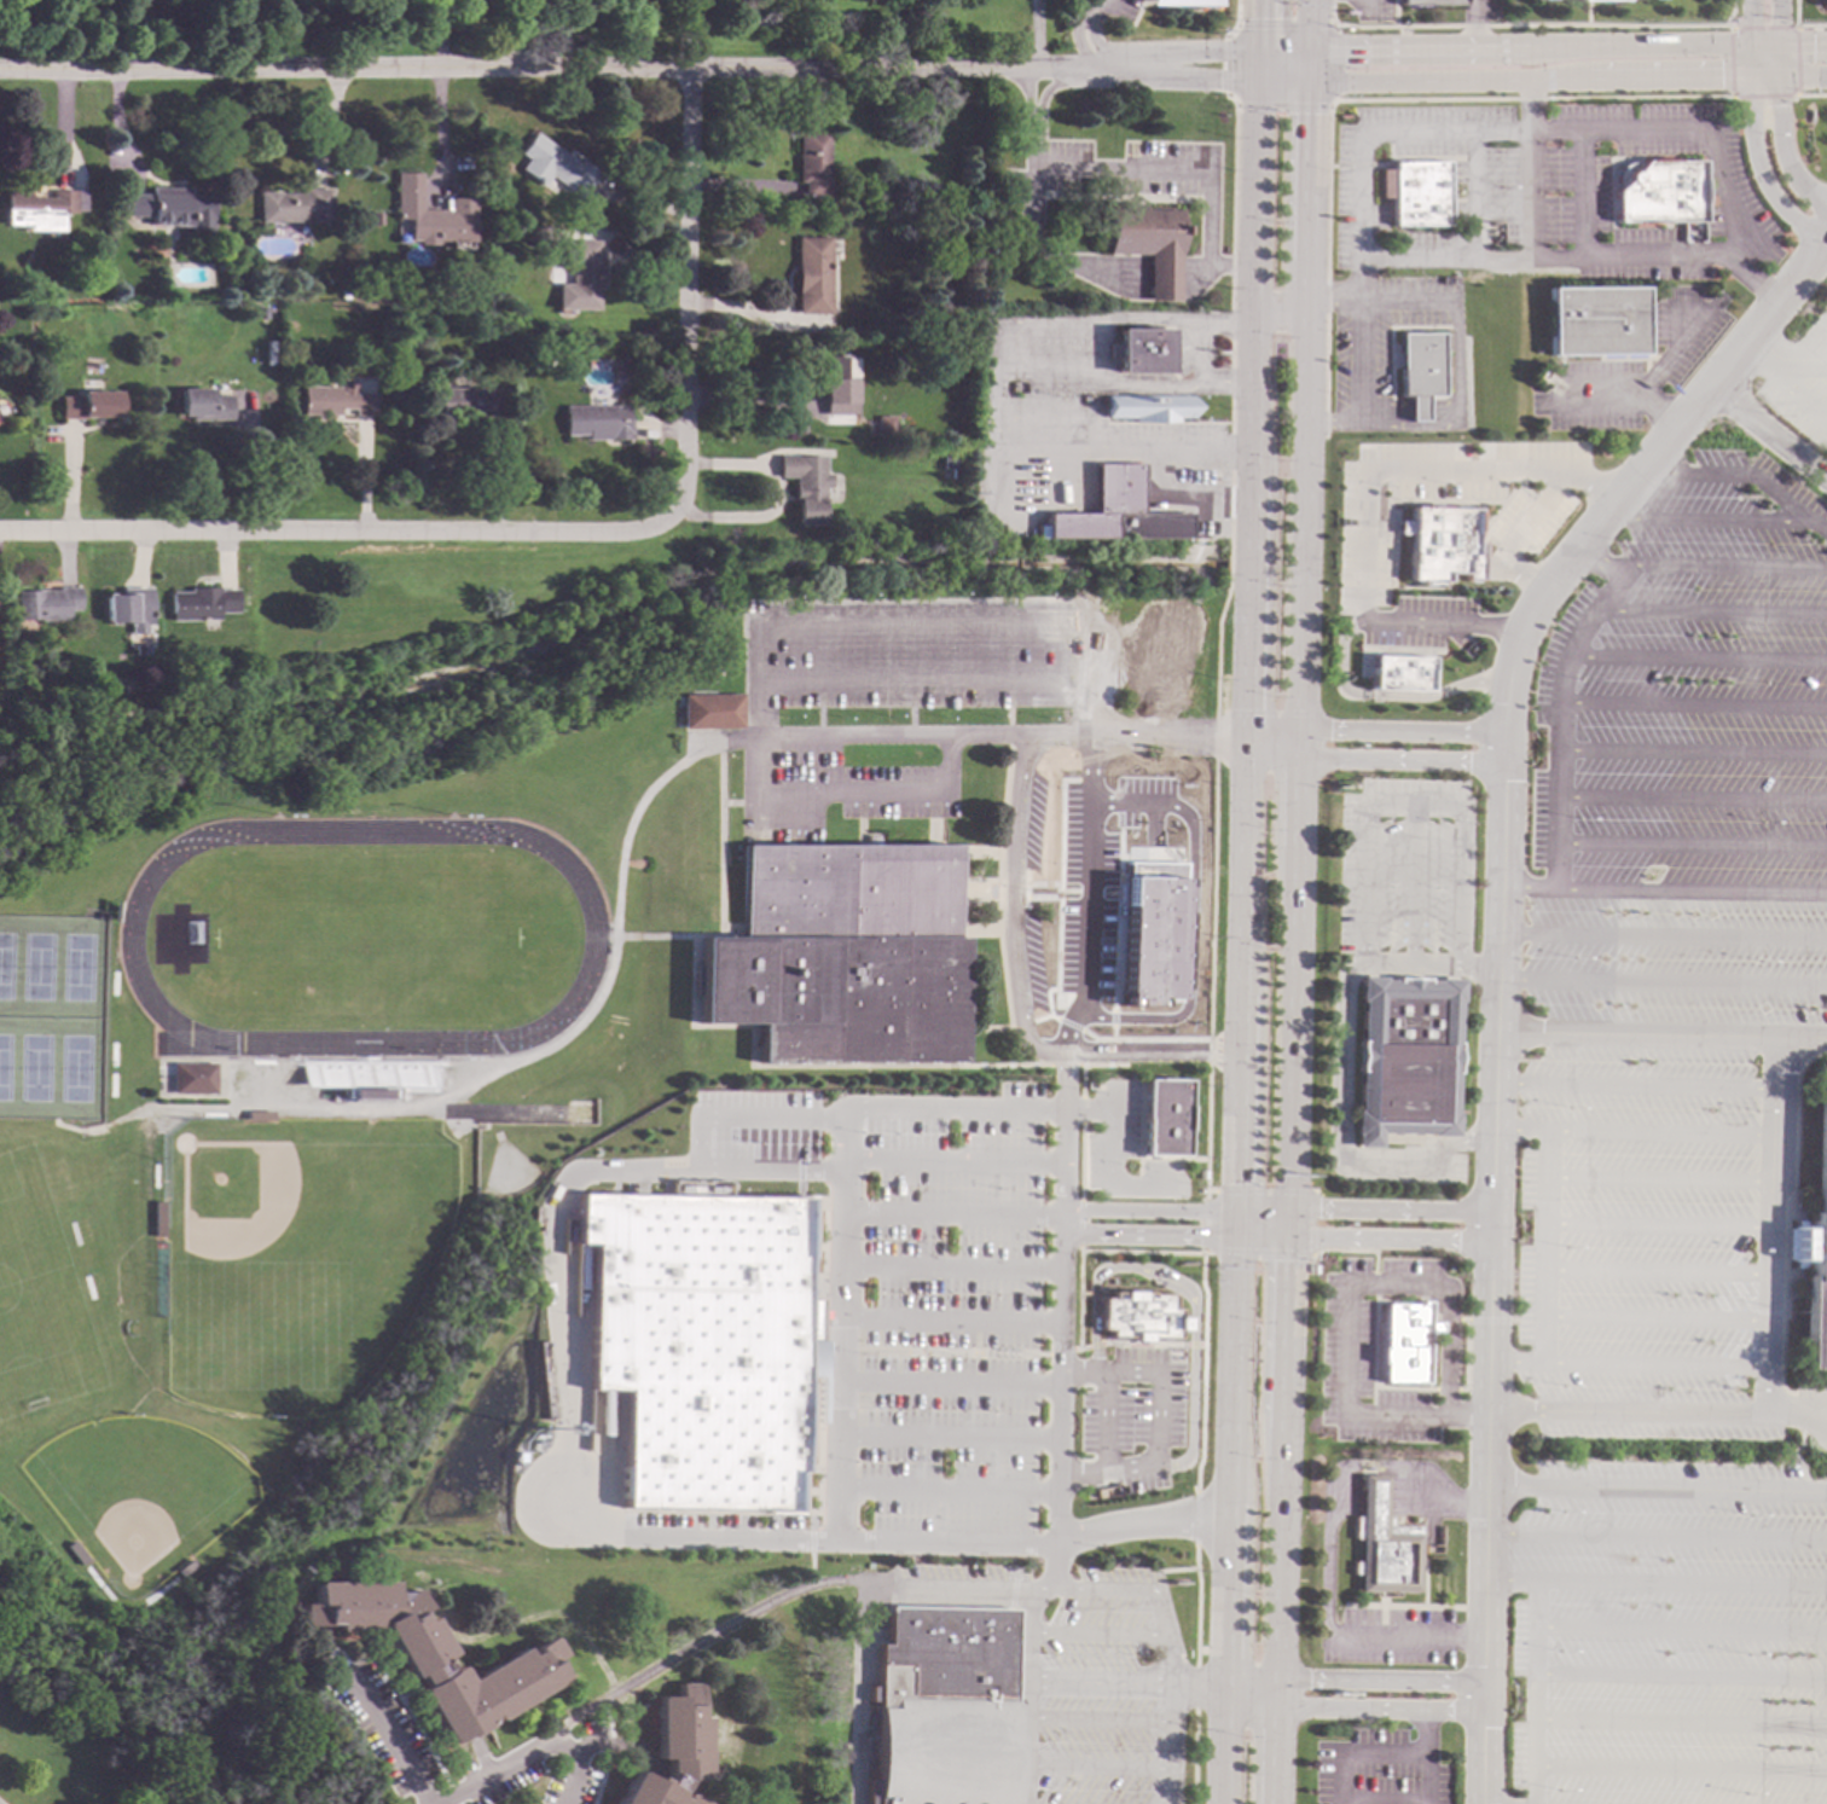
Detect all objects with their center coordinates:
building: (1591, 0)
building: (1178, 2)
building: (1429, 2)
parking lot: (1121, 10)
road: (1752, 24)
road: (1255, 25)
road: (1309, 25)
road: (1475, 25)
road: (146, 28)
road: (1083, 31)
road: (279, 33)
road: (440, 33)
road: (581, 33)
road: (1775, 36)
road: (1530, 50)
traffic signals: (1752, 50)
road: (1788, 50)
traffic signals: (1255, 51)
road: (1282, 51)
traffic signals: (1775, 51)
road: (1196, 52)
traffic signals: (1309, 52)
road: (1751, 62)
road: (1255, 65)
road: (569, 66)
road: (1307, 66)
road: (1763, 74)
traffic signals: (1775, 74)
road: (1800, 74)
traffic signals: (1751, 75)
road: (1195, 79)
road: (1529, 79)
traffic signals: (1255, 81)
road: (1281, 81)
traffic signals: (1307, 82)
road: (1527, 92)
road: (1033, 117)
road: (437, 134)
road: (1686, 134)
road: (1032, 145)
road: (1780, 157)
building: (811, 162)
building: (552, 166)
road: (1758, 168)
road: (1170, 172)
road: (1526, 181)
road: (1305, 191)
building: (1658, 192)
building: (1415, 193)
road: (1579, 196)
building: (294, 205)
building: (170, 207)
building: (39, 208)
building: (425, 214)
road: (1823, 228)
building: (1145, 243)
road: (1626, 257)
road: (1046, 260)
road: (688, 273)
road: (1160, 273)
road: (1213, 273)
building: (812, 274)
building: (578, 275)
road: (1748, 277)
building: (344, 294)
road: (1329, 298)
road: (1276, 300)
road: (1403, 300)
building: (262, 312)
road: (1693, 319)
building: (1593, 320)
road: (1078, 326)
building: (551, 338)
road: (1809, 338)
building: (1137, 350)
road: (1356, 356)
road: (1202, 359)
road: (1774, 359)
road: (1825, 361)
building: (1414, 371)
building: (839, 384)
road: (1790, 387)
road: (1118, 391)
road: (1590, 393)
building: (327, 401)
road: (1451, 401)
building: (469, 402)
building: (202, 404)
building: (89, 405)
road: (750, 405)
building: (1148, 407)
road: (1652, 408)
road: (1062, 419)
building: (596, 420)
road: (1328, 422)
building: (883, 427)
road: (1763, 434)
road: (1031, 457)
road: (1168, 457)
building: (947, 462)
road: (1363, 468)
road: (1688, 472)
building: (804, 485)
road: (1591, 485)
road: (1782, 505)
building: (1113, 511)
road: (1299, 514)
road: (1703, 520)
road: (321, 532)
building: (1433, 545)
road: (1602, 556)
road: (1723, 572)
road: (1520, 580)
building: (42, 603)
building: (198, 603)
building: (124, 608)
road: (1709, 613)
road: (765, 626)
building: (134, 649)
parking lot: (912, 652)
road: (1696, 657)
building: (1392, 674)
road: (916, 679)
road: (1381, 696)
road: (1692, 703)
building: (706, 714)
road: (1556, 720)
road: (1399, 731)
road: (883, 738)
road: (1161, 738)
road: (1692, 753)
road: (1342, 756)
road: (1294, 788)
parking lot: (848, 793)
parking lot: (1139, 797)
road: (1690, 797)
road: (1431, 804)
parking lot: (1031, 819)
road: (1149, 824)
road: (1690, 845)
road: (1119, 857)
road: (1356, 858)
road: (1177, 863)
road: (1661, 891)
parking lot: (1081, 898)
road: (1084, 898)
road: (1005, 910)
road: (1187, 913)
parking lot: (1670, 915)
road: (1115, 920)
building: (1148, 933)
road: (1663, 936)
track: (122, 938)
park: (355, 941)
road: (1240, 941)
building: (836, 957)
parking lot: (1033, 963)
road: (1497, 965)
road: (1661, 980)
road: (1052, 988)
road: (582, 1015)
park: (47, 1020)
road: (1290, 1028)
road: (1638, 1032)
road: (1108, 1039)
road: (1344, 1045)
road: (1207, 1052)
road: (1150, 1054)
building: (1404, 1057)
building: (185, 1083)
road: (1637, 1085)
building: (361, 1097)
road: (949, 1108)
road: (1085, 1110)
building: (1164, 1118)
road: (743, 1120)
road: (1635, 1131)
road: (1467, 1139)
road: (951, 1160)
road: (767, 1171)
road: (1107, 1174)
road: (1661, 1179)
traffic signals: (1235, 1184)
road: (1775, 1201)
traffic signals: (1316, 1210)
road: (1390, 1210)
road: (1173, 1211)
road: (950, 1217)
road: (1661, 1222)
road: (1287, 1223)
road: (1172, 1236)
traffic signals: (1197, 1236)
road: (1390, 1239)
road: (1547, 1246)
building: (1815, 1247)
park: (289, 1257)
traffic signals: (1287, 1260)
road: (949, 1268)
road: (1660, 1268)
road: (1185, 1297)
park: (36, 1298)
road: (558, 1304)
parking lot: (918, 1315)
road: (1058, 1318)
building: (1136, 1318)
road: (1659, 1319)
road: (947, 1322)
road: (836, 1332)
road: (1284, 1332)
building: (1406, 1342)
building: (700, 1345)
road: (1448, 1351)
road: (1518, 1362)
road: (1658, 1364)
road: (1348, 1369)
road: (946, 1385)
road: (1661, 1411)
road: (1797, 1411)
parking lot: (1132, 1417)
road: (1154, 1421)
road: (1103, 1422)
road: (945, 1439)
road: (1800, 1478)
road: (1657, 1489)
road: (945, 1492)
park: (128, 1493)
road: (1373, 1501)
road: (1437, 1502)
road: (1141, 1524)
road: (1657, 1537)
road: (833, 1543)
building: (1384, 1544)
road: (1281, 1553)
road: (1329, 1556)
road: (811, 1565)
parking lot: (959, 1573)
road: (1655, 1579)
road: (950, 1582)
road: (1042, 1584)
road: (1130, 1585)
road: (1681, 1629)
road: (1097, 1634)
road: (1406, 1635)
parking lot: (1664, 1635)
road: (708, 1638)
building: (431, 1654)
road: (1680, 1675)
road: (1251, 1677)
road: (1211, 1681)
road: (1381, 1681)
road: (1113, 1683)
road: (1278, 1690)
road: (1532, 1690)
road: (869, 1692)
road: (1026, 1694)
road: (1211, 1694)
road: (1251, 1703)
road: (1380, 1706)
building: (947, 1707)
road: (1177, 1718)
road: (1101, 1719)
road: (1680, 1721)
park: (66, 1724)
road: (1428, 1730)
road: (384, 1740)
building: (674, 1751)
road: (1277, 1753)
road: (574, 1765)
road: (497, 1768)
road: (1101, 1768)
road: (1678, 1769)
road: (1339, 1776)
road: (1427, 1779)
road: (1339, 1802)

